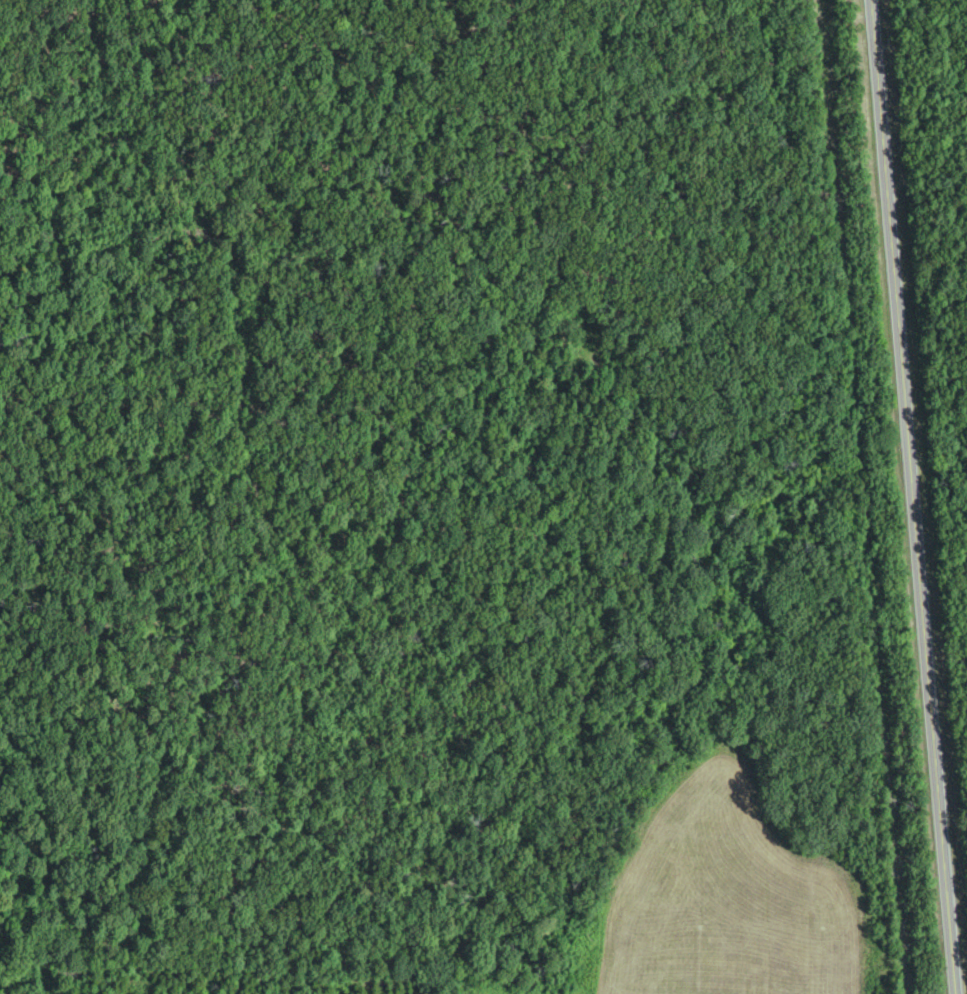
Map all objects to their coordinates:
road: (912, 497)

